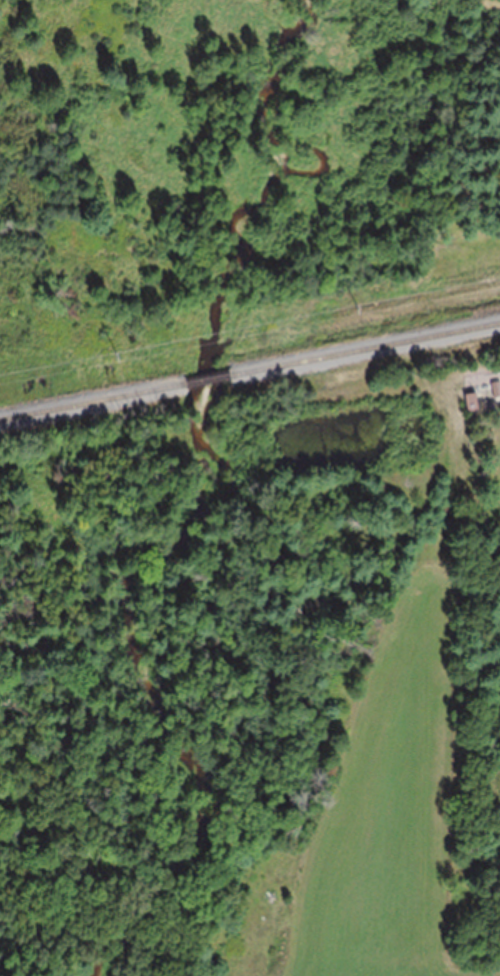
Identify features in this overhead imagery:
railway: (363, 346)
railway: (205, 377)
building: (496, 387)
railway: (92, 398)

